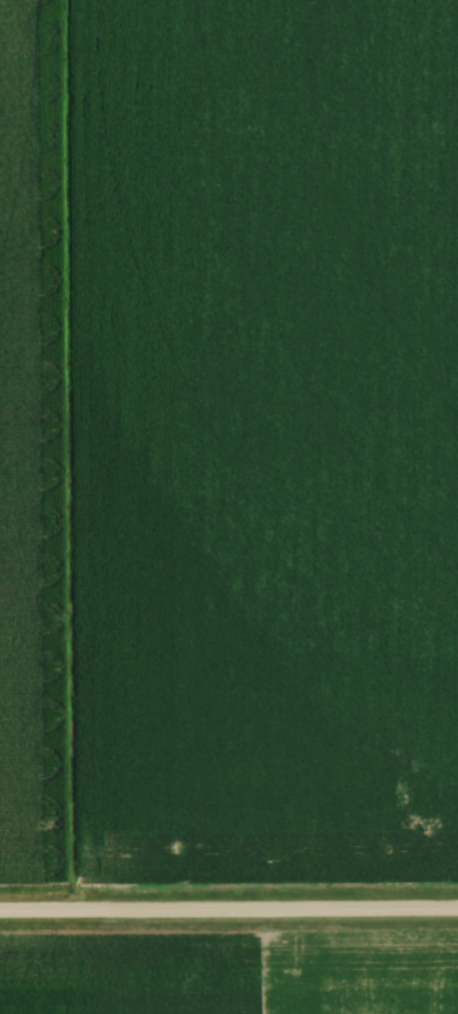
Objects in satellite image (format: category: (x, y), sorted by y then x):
road: (229, 908)

